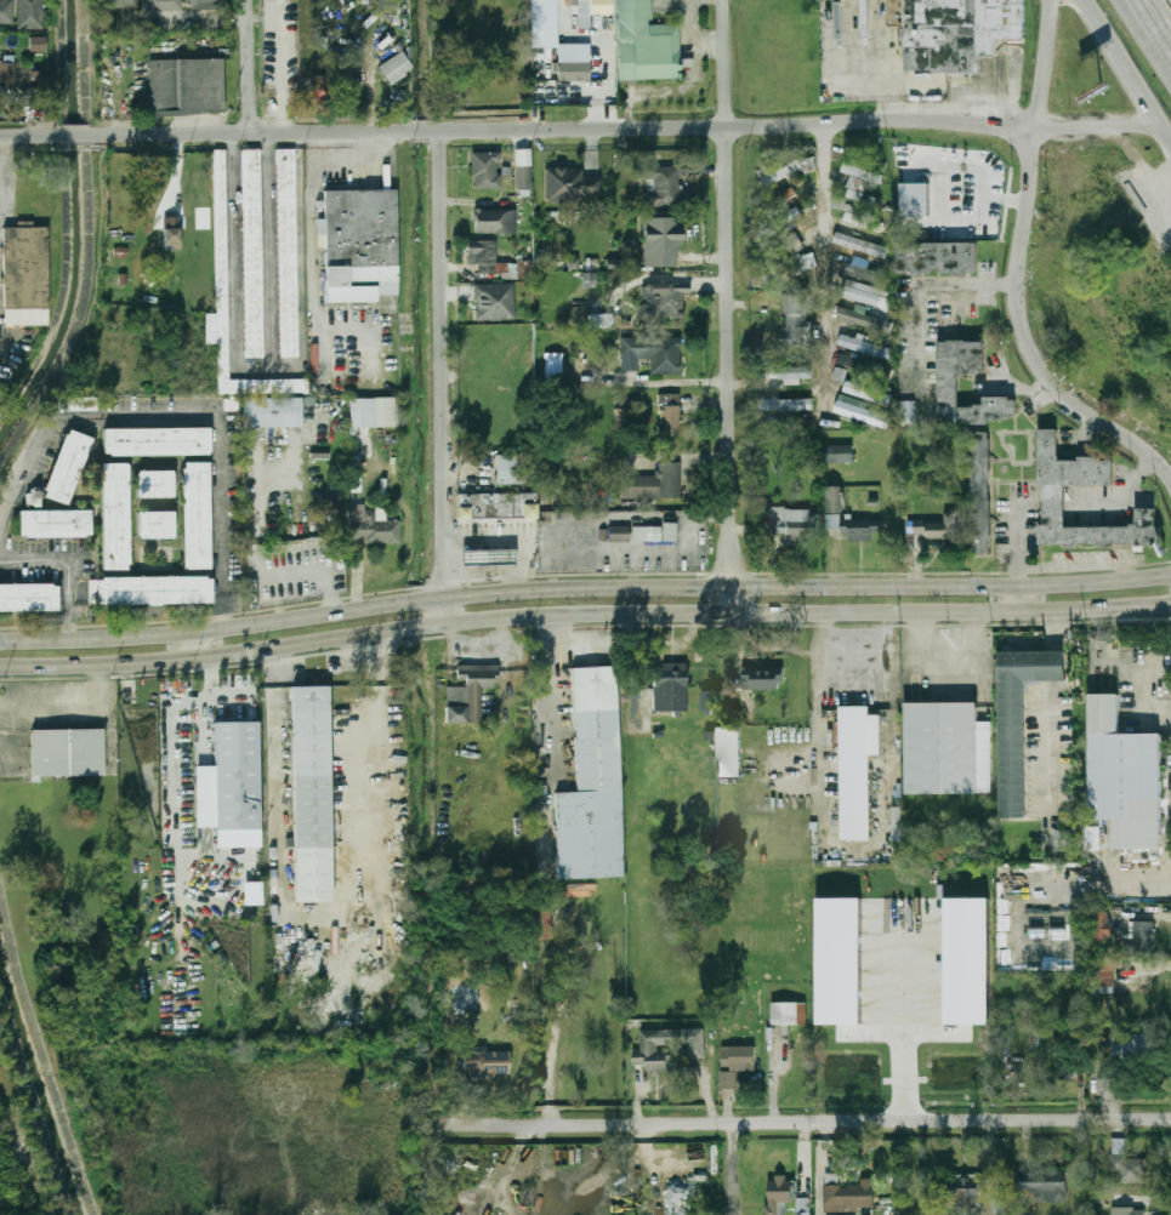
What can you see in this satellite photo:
building: (116, 4)
building: (161, 5)
building: (209, 5)
building: (593, 10)
road: (723, 11)
building: (6, 12)
building: (29, 15)
road: (188, 19)
road: (1158, 21)
building: (544, 22)
road: (1149, 28)
building: (954, 30)
building: (647, 42)
building: (36, 44)
road: (1042, 64)
road: (250, 67)
building: (396, 68)
road: (1126, 70)
building: (7, 72)
building: (186, 86)
building: (319, 87)
building: (30, 96)
road: (1097, 126)
road: (739, 127)
road: (347, 131)
road: (175, 133)
road: (80, 135)
road: (30, 136)
road: (6, 155)
building: (523, 170)
building: (853, 170)
building: (485, 171)
building: (780, 173)
road: (1153, 183)
building: (572, 186)
building: (664, 187)
building: (853, 188)
building: (785, 195)
building: (913, 198)
building: (860, 217)
building: (785, 218)
building: (495, 221)
river: (79, 233)
building: (172, 234)
building: (661, 241)
building: (358, 243)
building: (859, 244)
building: (784, 245)
building: (285, 251)
building: (251, 252)
building: (933, 255)
building: (487, 257)
road: (822, 259)
road: (301, 262)
building: (573, 263)
building: (222, 266)
building: (789, 268)
building: (864, 270)
building: (25, 275)
road: (926, 284)
building: (866, 293)
building: (663, 301)
building: (494, 302)
road: (729, 316)
building: (864, 318)
building: (797, 320)
road: (1022, 337)
building: (866, 346)
building: (650, 354)
building: (553, 366)
building: (864, 366)
road: (255, 369)
building: (788, 372)
building: (839, 373)
road: (440, 377)
road: (667, 381)
building: (945, 383)
building: (868, 393)
building: (785, 404)
building: (371, 410)
building: (269, 411)
building: (906, 411)
building: (669, 415)
building: (860, 415)
road: (182, 417)
building: (157, 440)
building: (840, 454)
building: (66, 466)
building: (511, 470)
building: (356, 479)
building: (153, 483)
building: (654, 483)
building: (978, 491)
building: (1052, 495)
building: (33, 498)
building: (835, 498)
building: (495, 503)
building: (113, 514)
building: (194, 514)
building: (52, 521)
building: (832, 521)
building: (794, 523)
building: (154, 524)
building: (371, 526)
building: (860, 527)
building: (936, 527)
building: (669, 532)
building: (618, 534)
building: (646, 534)
building: (485, 555)
road: (67, 565)
road: (303, 571)
road: (584, 588)
building: (147, 589)
building: (27, 595)
road: (1018, 595)
road: (584, 612)
road: (864, 624)
road: (198, 643)
road: (819, 652)
road: (944, 661)
building: (1052, 666)
building: (762, 678)
building: (670, 686)
road: (887, 686)
building: (468, 694)
building: (707, 700)
road: (1056, 706)
building: (1014, 726)
road: (818, 745)
building: (948, 748)
building: (68, 752)
building: (728, 752)
building: (855, 771)
building: (234, 774)
building: (1125, 776)
building: (592, 786)
building: (313, 794)
building: (1093, 837)
building: (1063, 839)
road: (551, 871)
building: (252, 894)
building: (1104, 924)
building: (1142, 936)
building: (967, 959)
building: (840, 962)
building: (1102, 976)
building: (790, 1012)
road: (905, 1017)
building: (1133, 1045)
building: (654, 1056)
building: (1067, 1061)
building: (737, 1062)
building: (487, 1063)
river: (39, 1078)
road: (812, 1123)
road: (807, 1154)
road: (28, 1163)
building: (1130, 1166)
road: (654, 1169)
road: (734, 1169)
road: (824, 1169)
building: (1041, 1183)
building: (781, 1190)
building: (961, 1190)
building: (581, 1193)
building: (848, 1193)
building: (999, 1200)
building: (803, 1205)
building: (1129, 1210)
building: (852, 1214)

